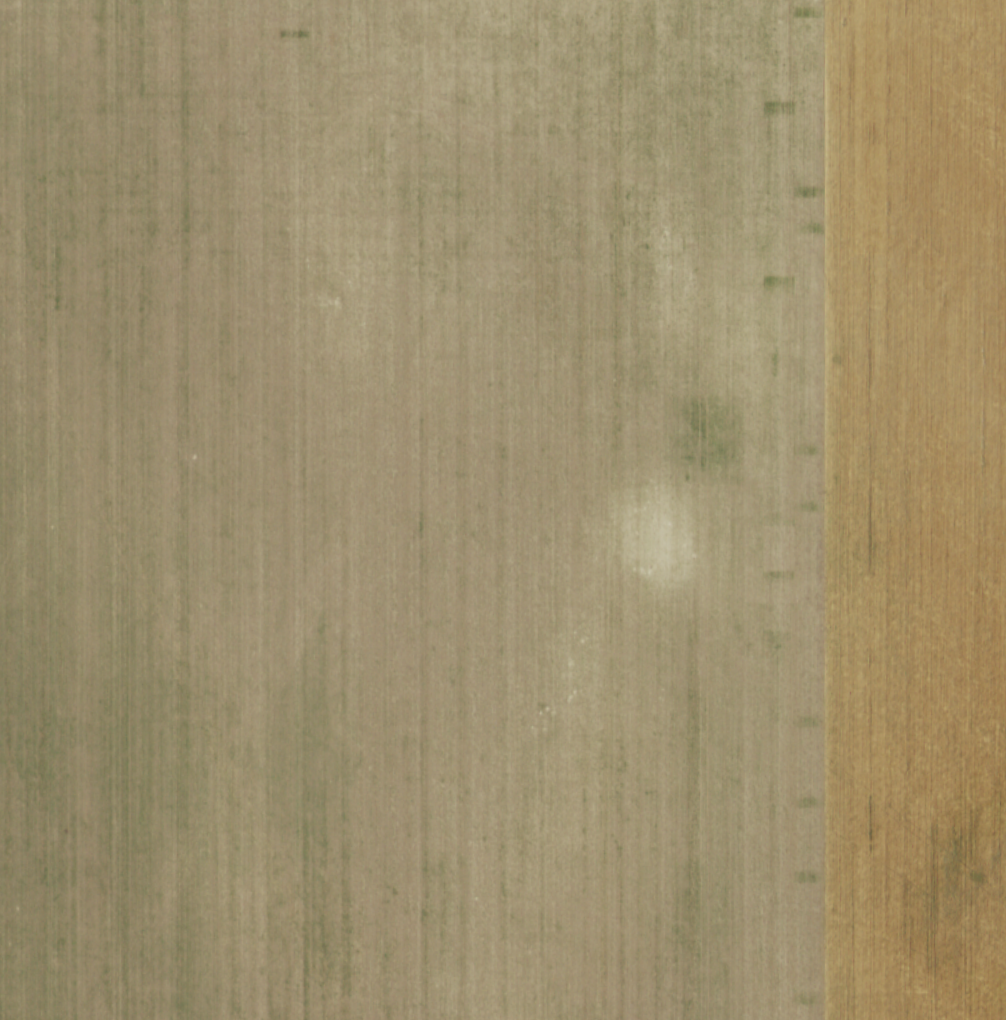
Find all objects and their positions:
crop: (503, 510)

